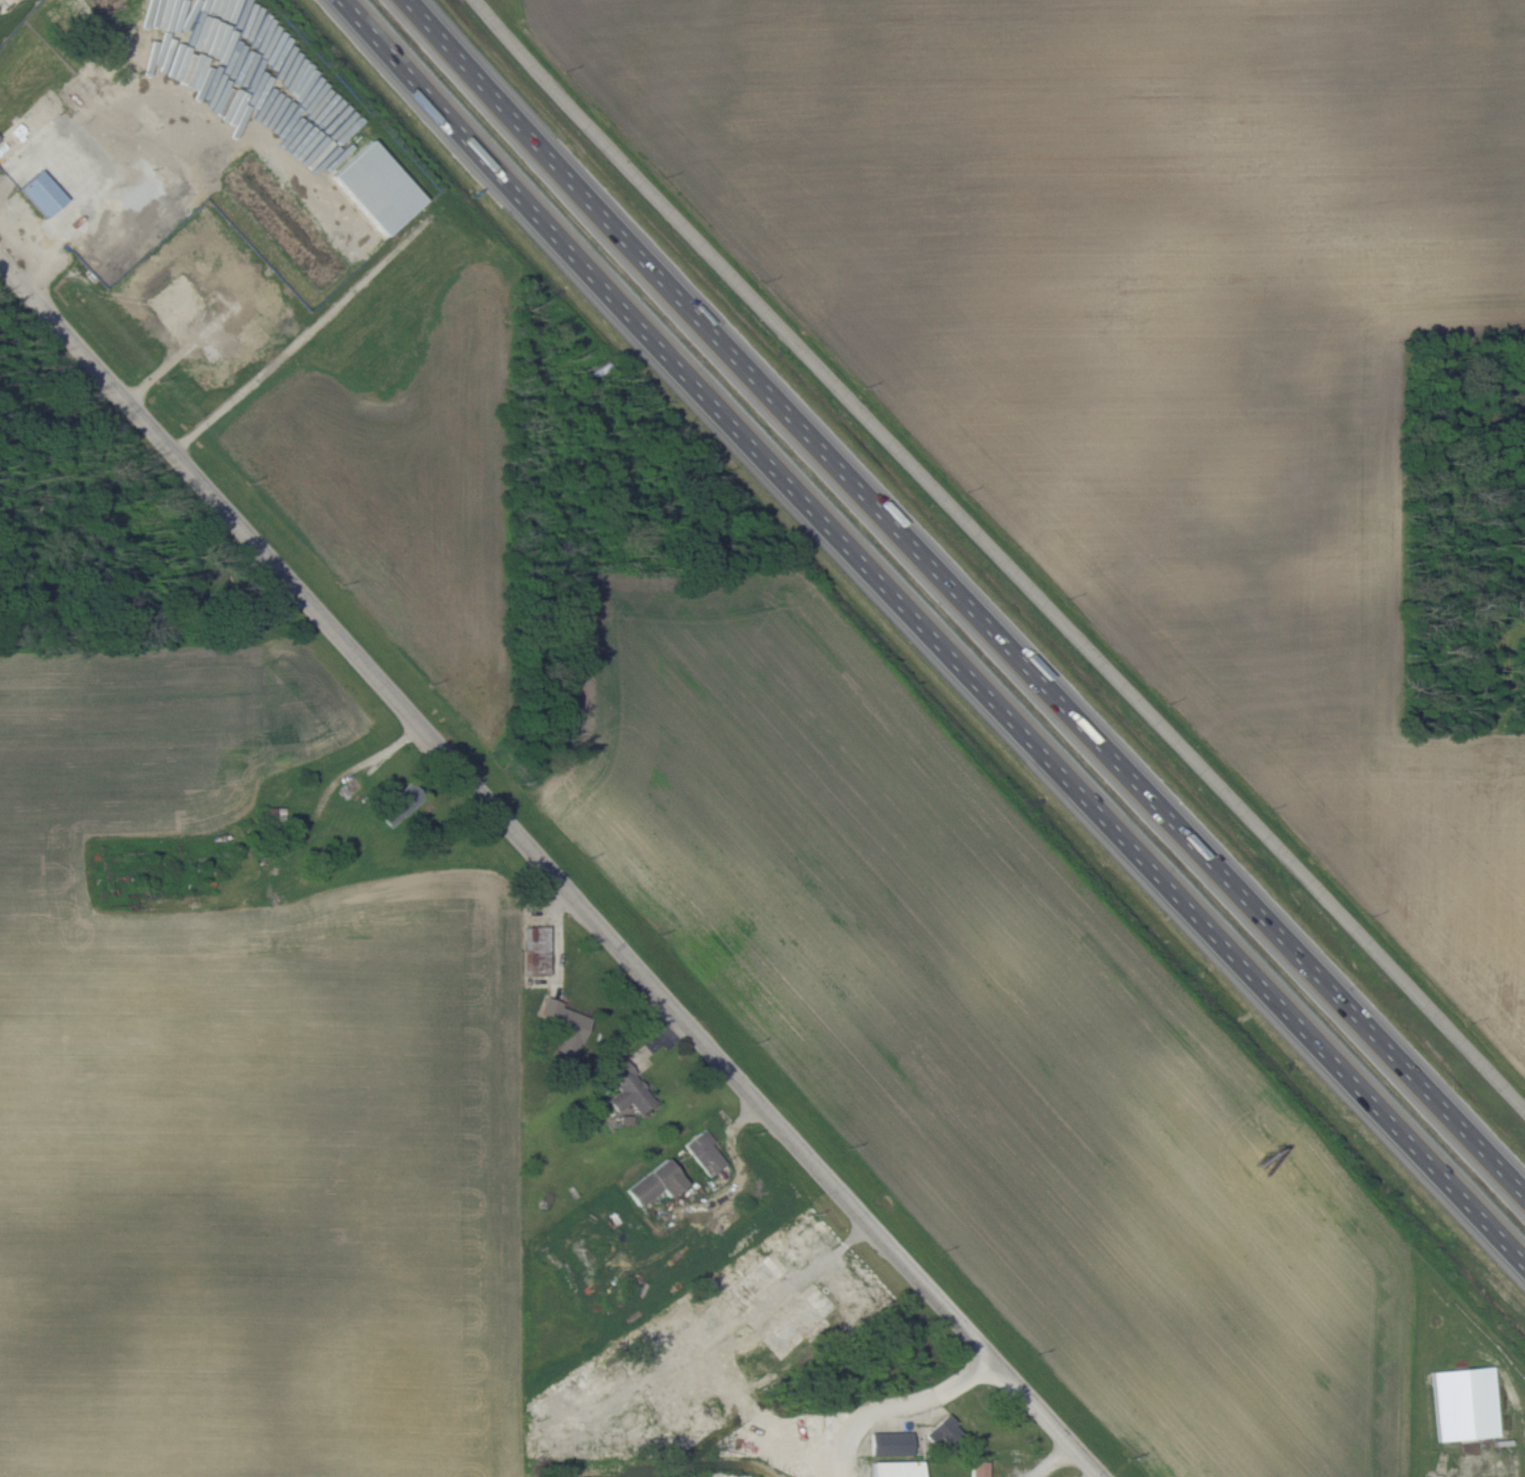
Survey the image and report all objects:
building: (97, 84)
road: (199, 101)
building: (376, 189)
building: (42, 194)
building: (239, 282)
road: (301, 335)
building: (247, 338)
road: (998, 556)
road: (964, 598)
road: (928, 638)
building: (349, 788)
building: (399, 804)
road: (550, 870)
building: (535, 950)
building: (566, 1027)
building: (628, 1089)
building: (705, 1153)
road: (740, 1172)
building: (656, 1183)
road: (811, 1270)
building: (755, 1279)
building: (799, 1323)
building: (1465, 1404)
road: (906, 1411)
building: (942, 1431)
building: (891, 1443)
building: (582, 1455)
road: (1057, 1460)
road: (1473, 1468)
building: (895, 1469)
building: (979, 1469)

